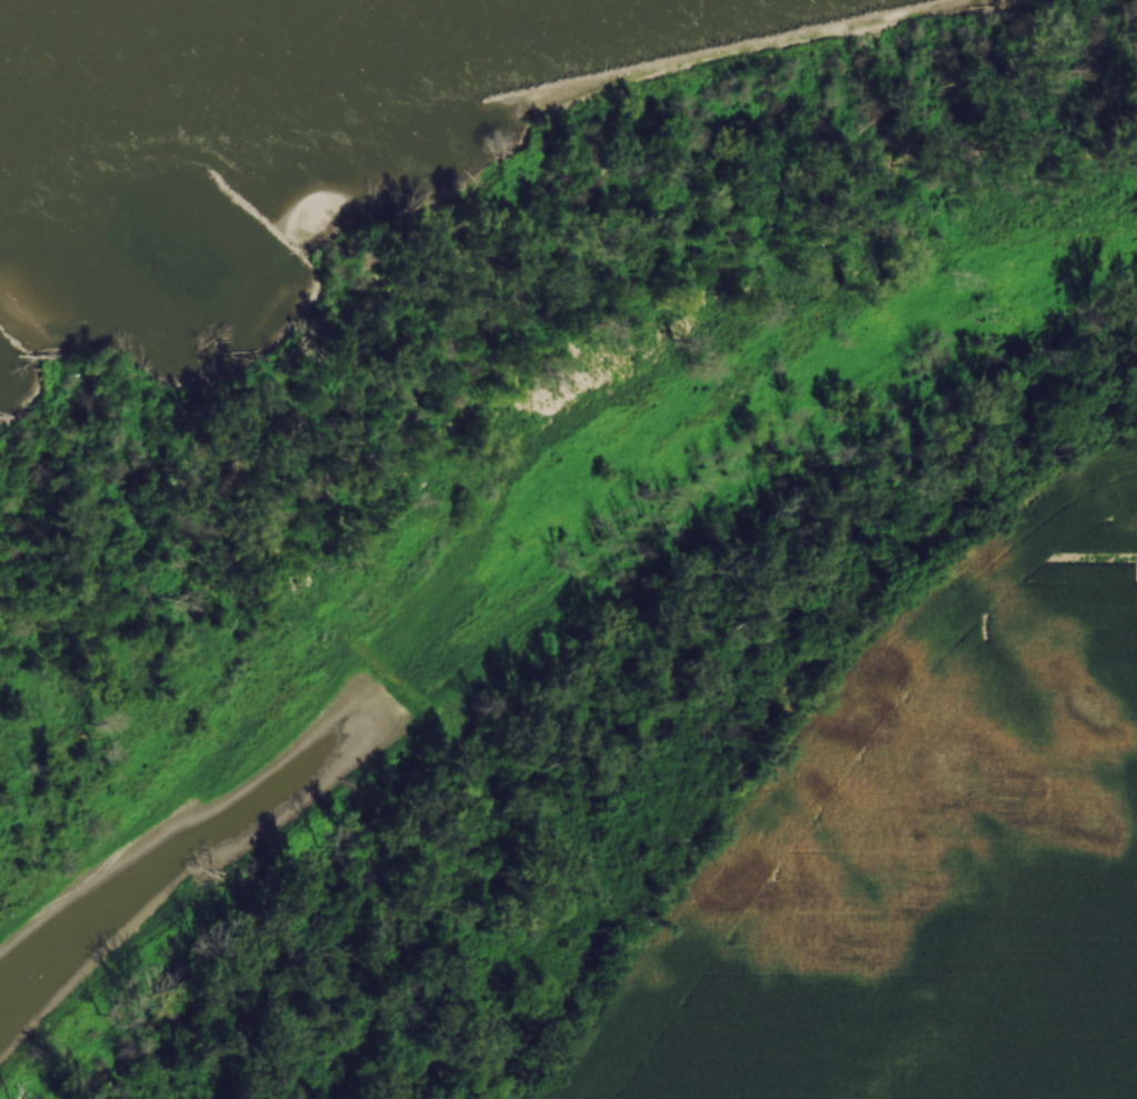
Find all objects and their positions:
river: (62, 23)

